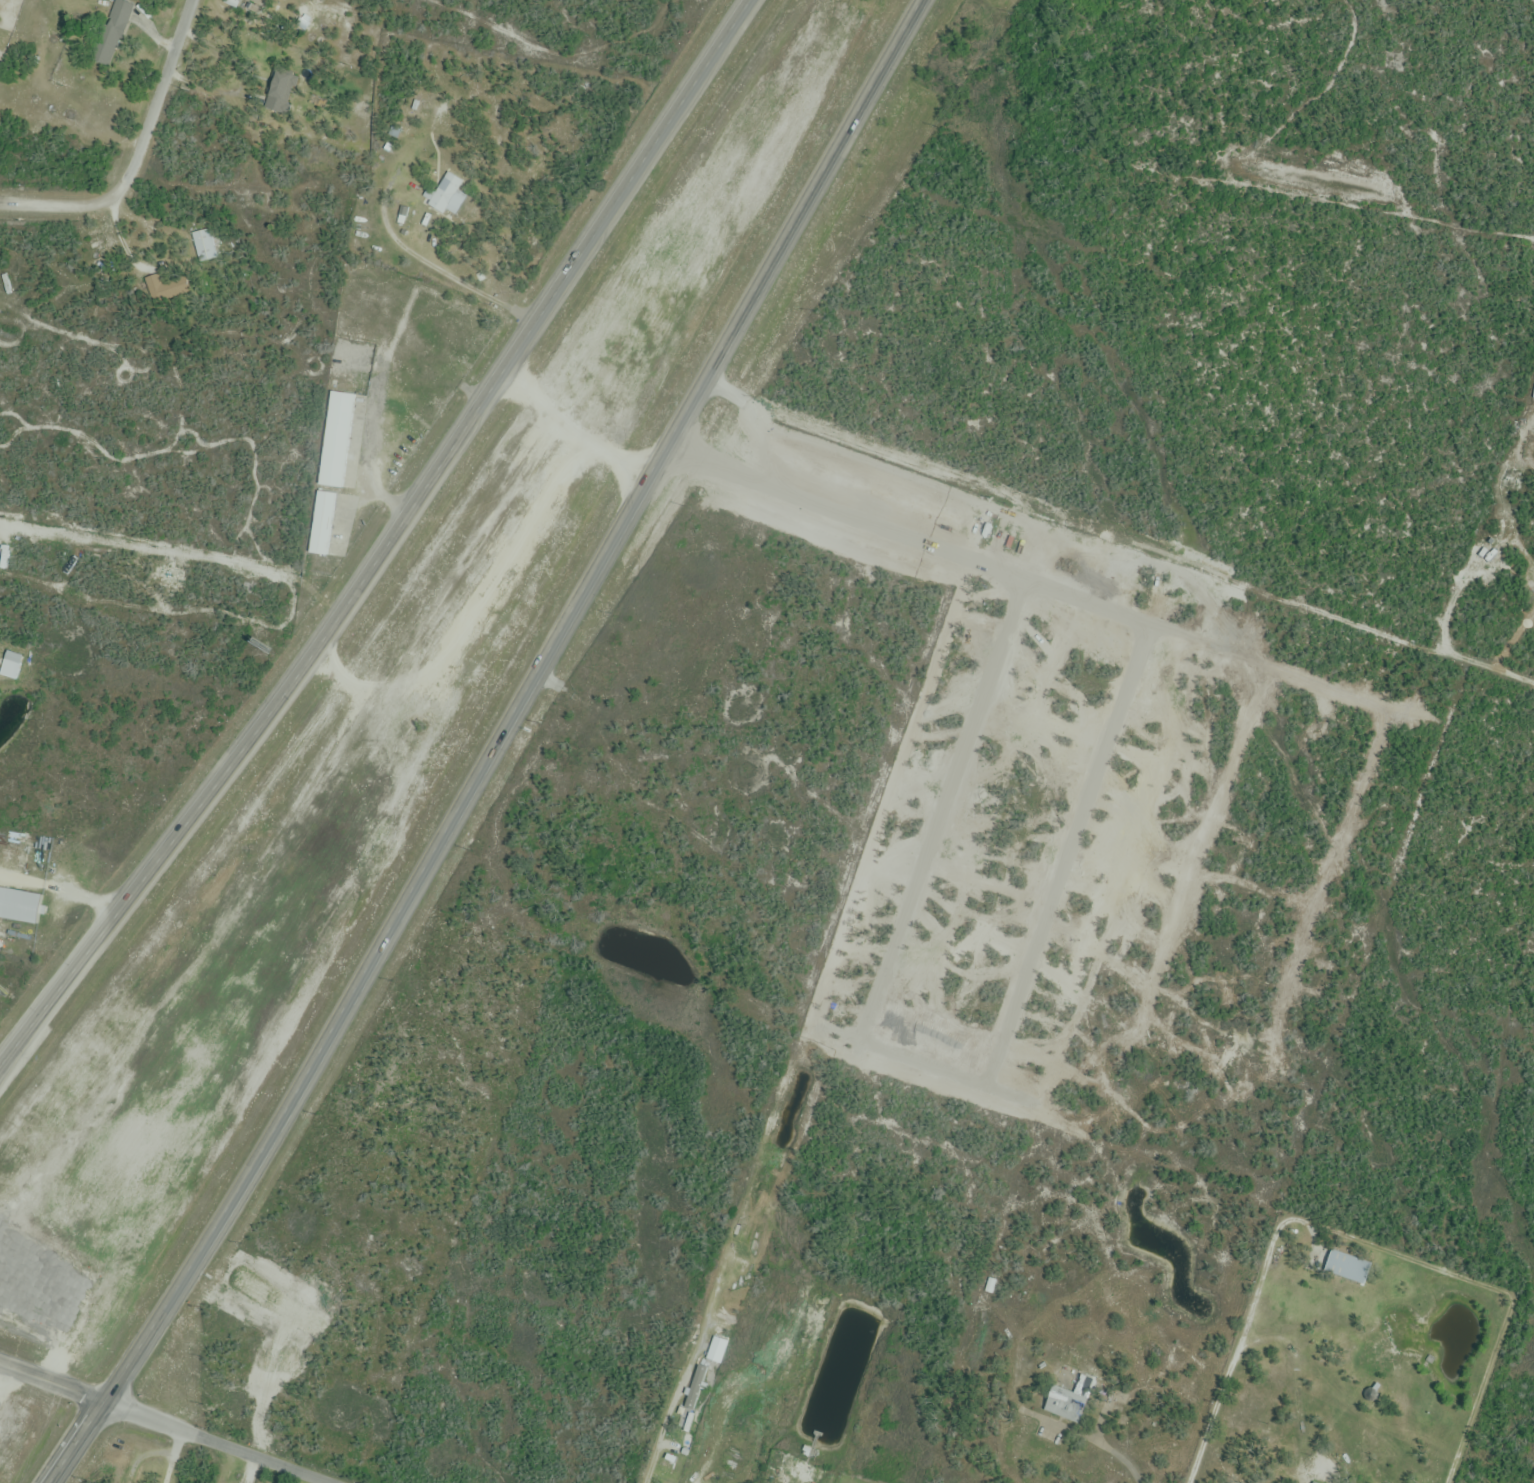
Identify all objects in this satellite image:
building: (256, 0)
building: (111, 33)
building: (280, 92)
building: (438, 121)
road: (139, 155)
building: (447, 195)
building: (205, 245)
building: (153, 283)
building: (336, 440)
building: (321, 524)
road: (381, 540)
building: (9, 667)
road: (1495, 672)
road: (493, 746)
road: (1356, 1238)
building: (1347, 1268)
road: (50, 1384)
building: (1069, 1401)
road: (214, 1443)
building: (1317, 1482)

